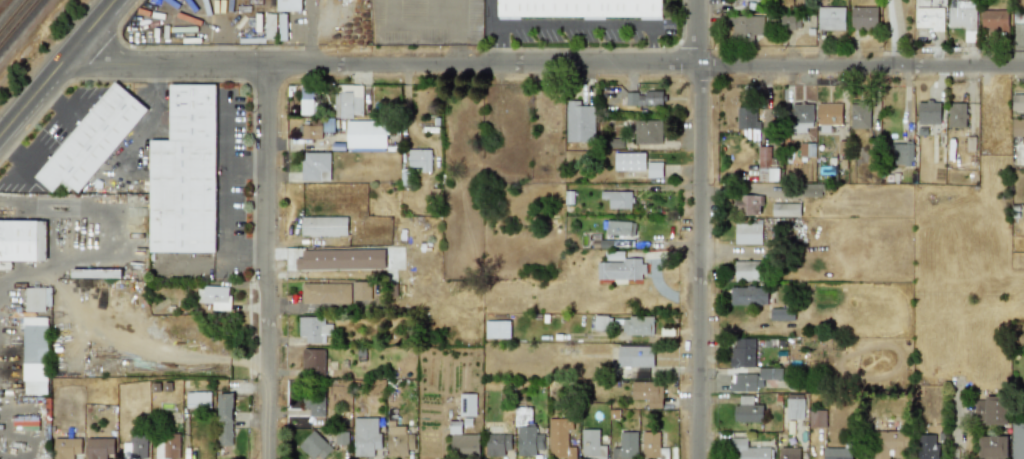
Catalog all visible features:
building: (742, 4)
building: (291, 5)
building: (583, 9)
building: (929, 15)
building: (962, 15)
railway: (13, 16)
building: (831, 18)
building: (864, 18)
building: (995, 20)
building: (790, 22)
railway: (19, 23)
road: (577, 24)
building: (270, 26)
building: (282, 27)
building: (745, 27)
road: (891, 32)
road: (656, 43)
road: (498, 44)
road: (546, 63)
road: (57, 67)
building: (645, 98)
building: (307, 101)
building: (349, 102)
building: (1018, 102)
building: (930, 112)
building: (957, 115)
building: (828, 116)
building: (800, 117)
building: (860, 117)
building: (747, 118)
building: (579, 120)
building: (1018, 127)
building: (310, 130)
building: (648, 132)
building: (366, 134)
building: (94, 140)
building: (901, 153)
road: (247, 158)
building: (420, 160)
building: (635, 164)
building: (765, 165)
building: (315, 166)
building: (187, 174)
road: (227, 175)
building: (811, 190)
building: (613, 199)
road: (53, 200)
building: (748, 205)
building: (785, 210)
building: (324, 226)
building: (616, 228)
road: (697, 229)
building: (748, 233)
building: (23, 240)
building: (340, 259)
road: (258, 260)
road: (237, 261)
road: (268, 262)
building: (620, 268)
building: (748, 270)
building: (97, 273)
building: (336, 292)
building: (748, 295)
building: (216, 297)
building: (37, 299)
road: (314, 307)
building: (781, 314)
building: (601, 322)
building: (637, 325)
building: (314, 329)
building: (497, 329)
building: (741, 352)
building: (36, 356)
building: (635, 356)
building: (313, 361)
building: (754, 379)
building: (647, 393)
building: (198, 399)
building: (313, 403)
building: (467, 404)
building: (794, 409)
building: (746, 410)
building: (991, 410)
building: (818, 418)
building: (225, 419)
building: (526, 434)
building: (366, 435)
building: (341, 438)
building: (560, 439)
building: (1017, 440)
building: (398, 441)
building: (464, 443)
building: (891, 444)
building: (498, 445)
building: (592, 445)
building: (167, 446)
building: (315, 446)
building: (625, 446)
building: (653, 446)
building: (65, 447)
building: (134, 447)
building: (929, 447)
building: (992, 447)
building: (100, 448)
building: (750, 449)
building: (837, 453)
building: (789, 454)

